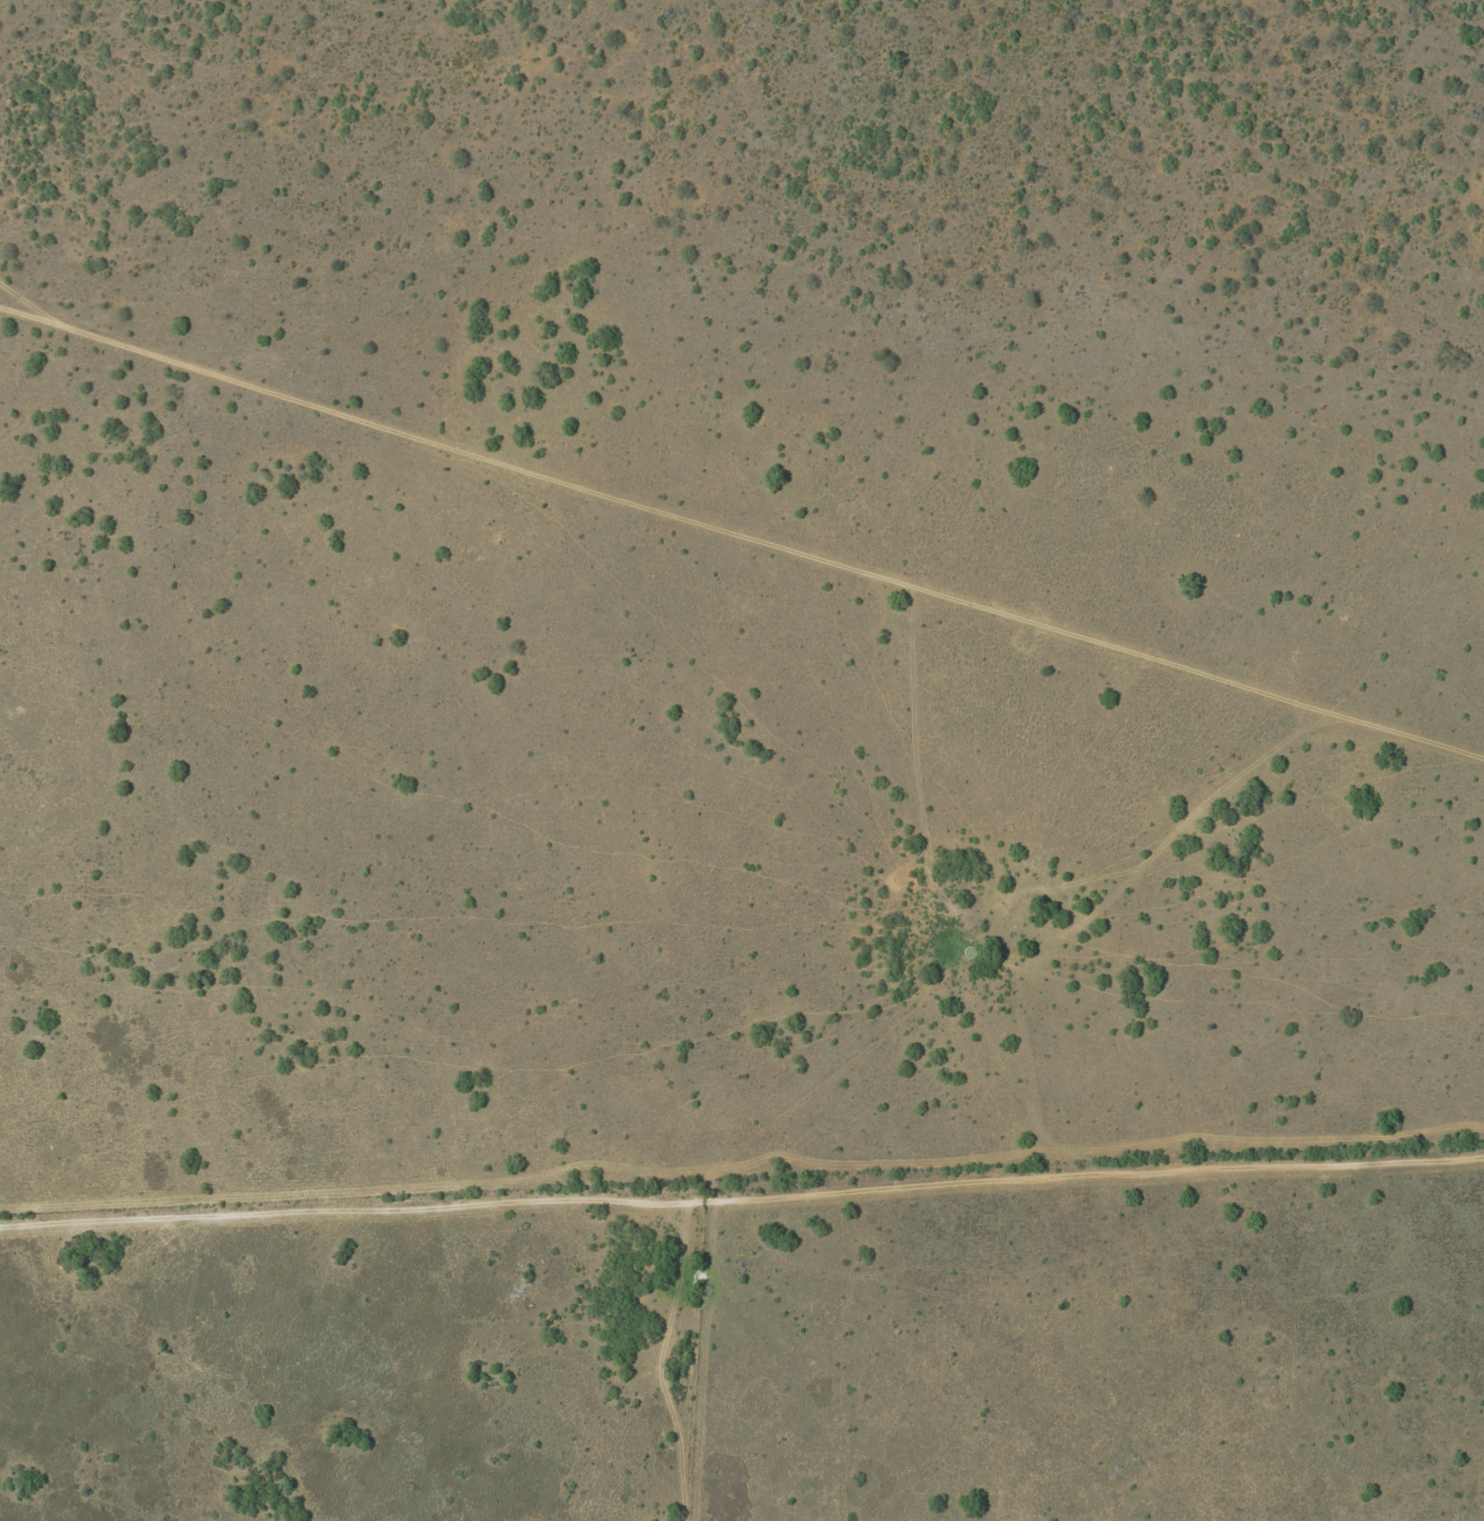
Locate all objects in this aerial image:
road: (742, 550)
road: (741, 1198)

